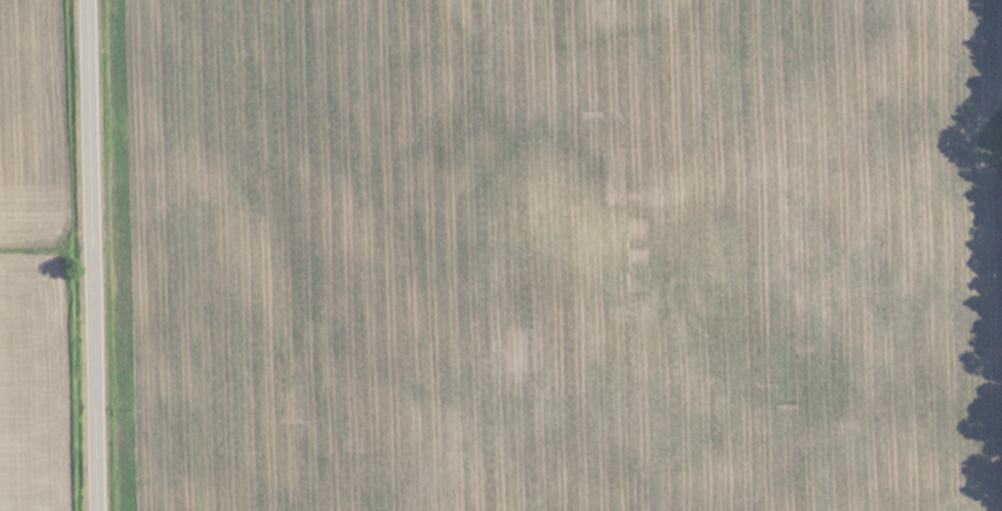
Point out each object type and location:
road: (97, 255)

